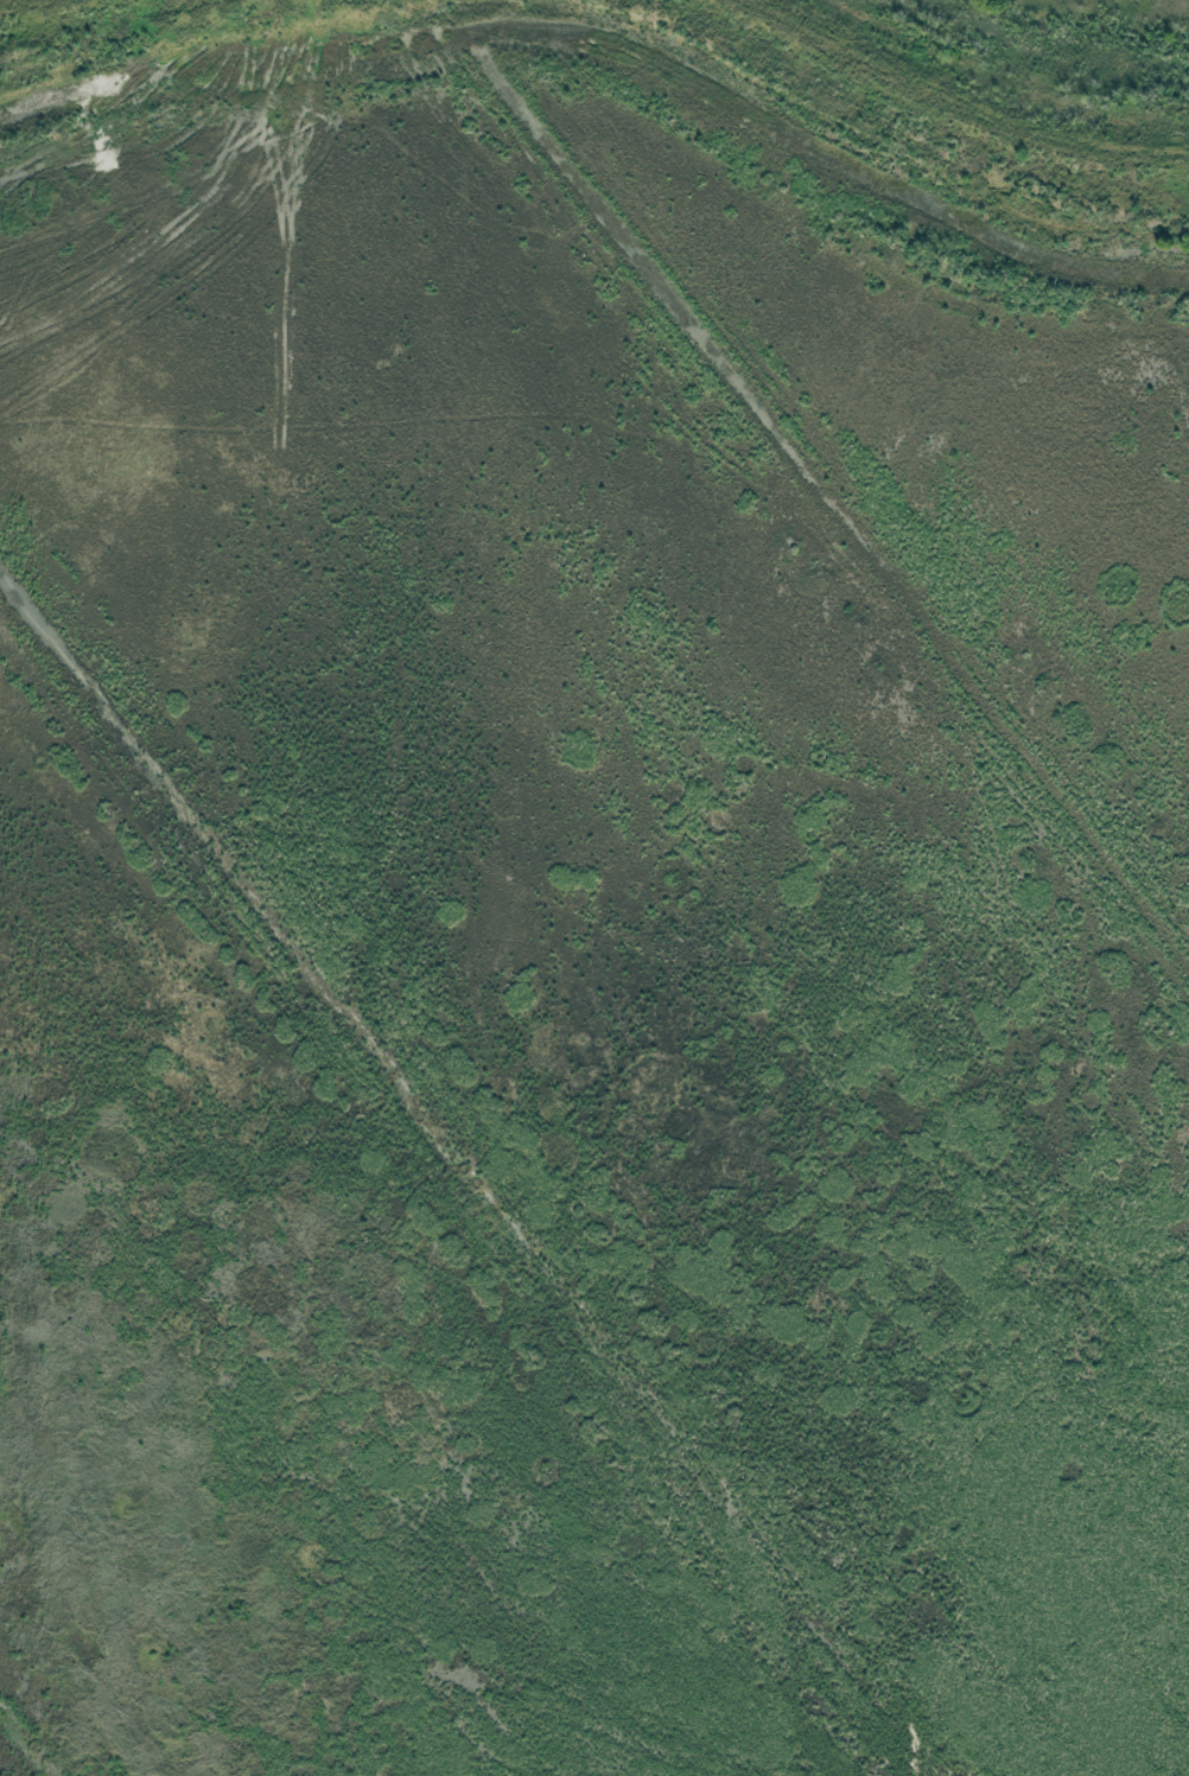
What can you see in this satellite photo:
landfill: (594, 887)

